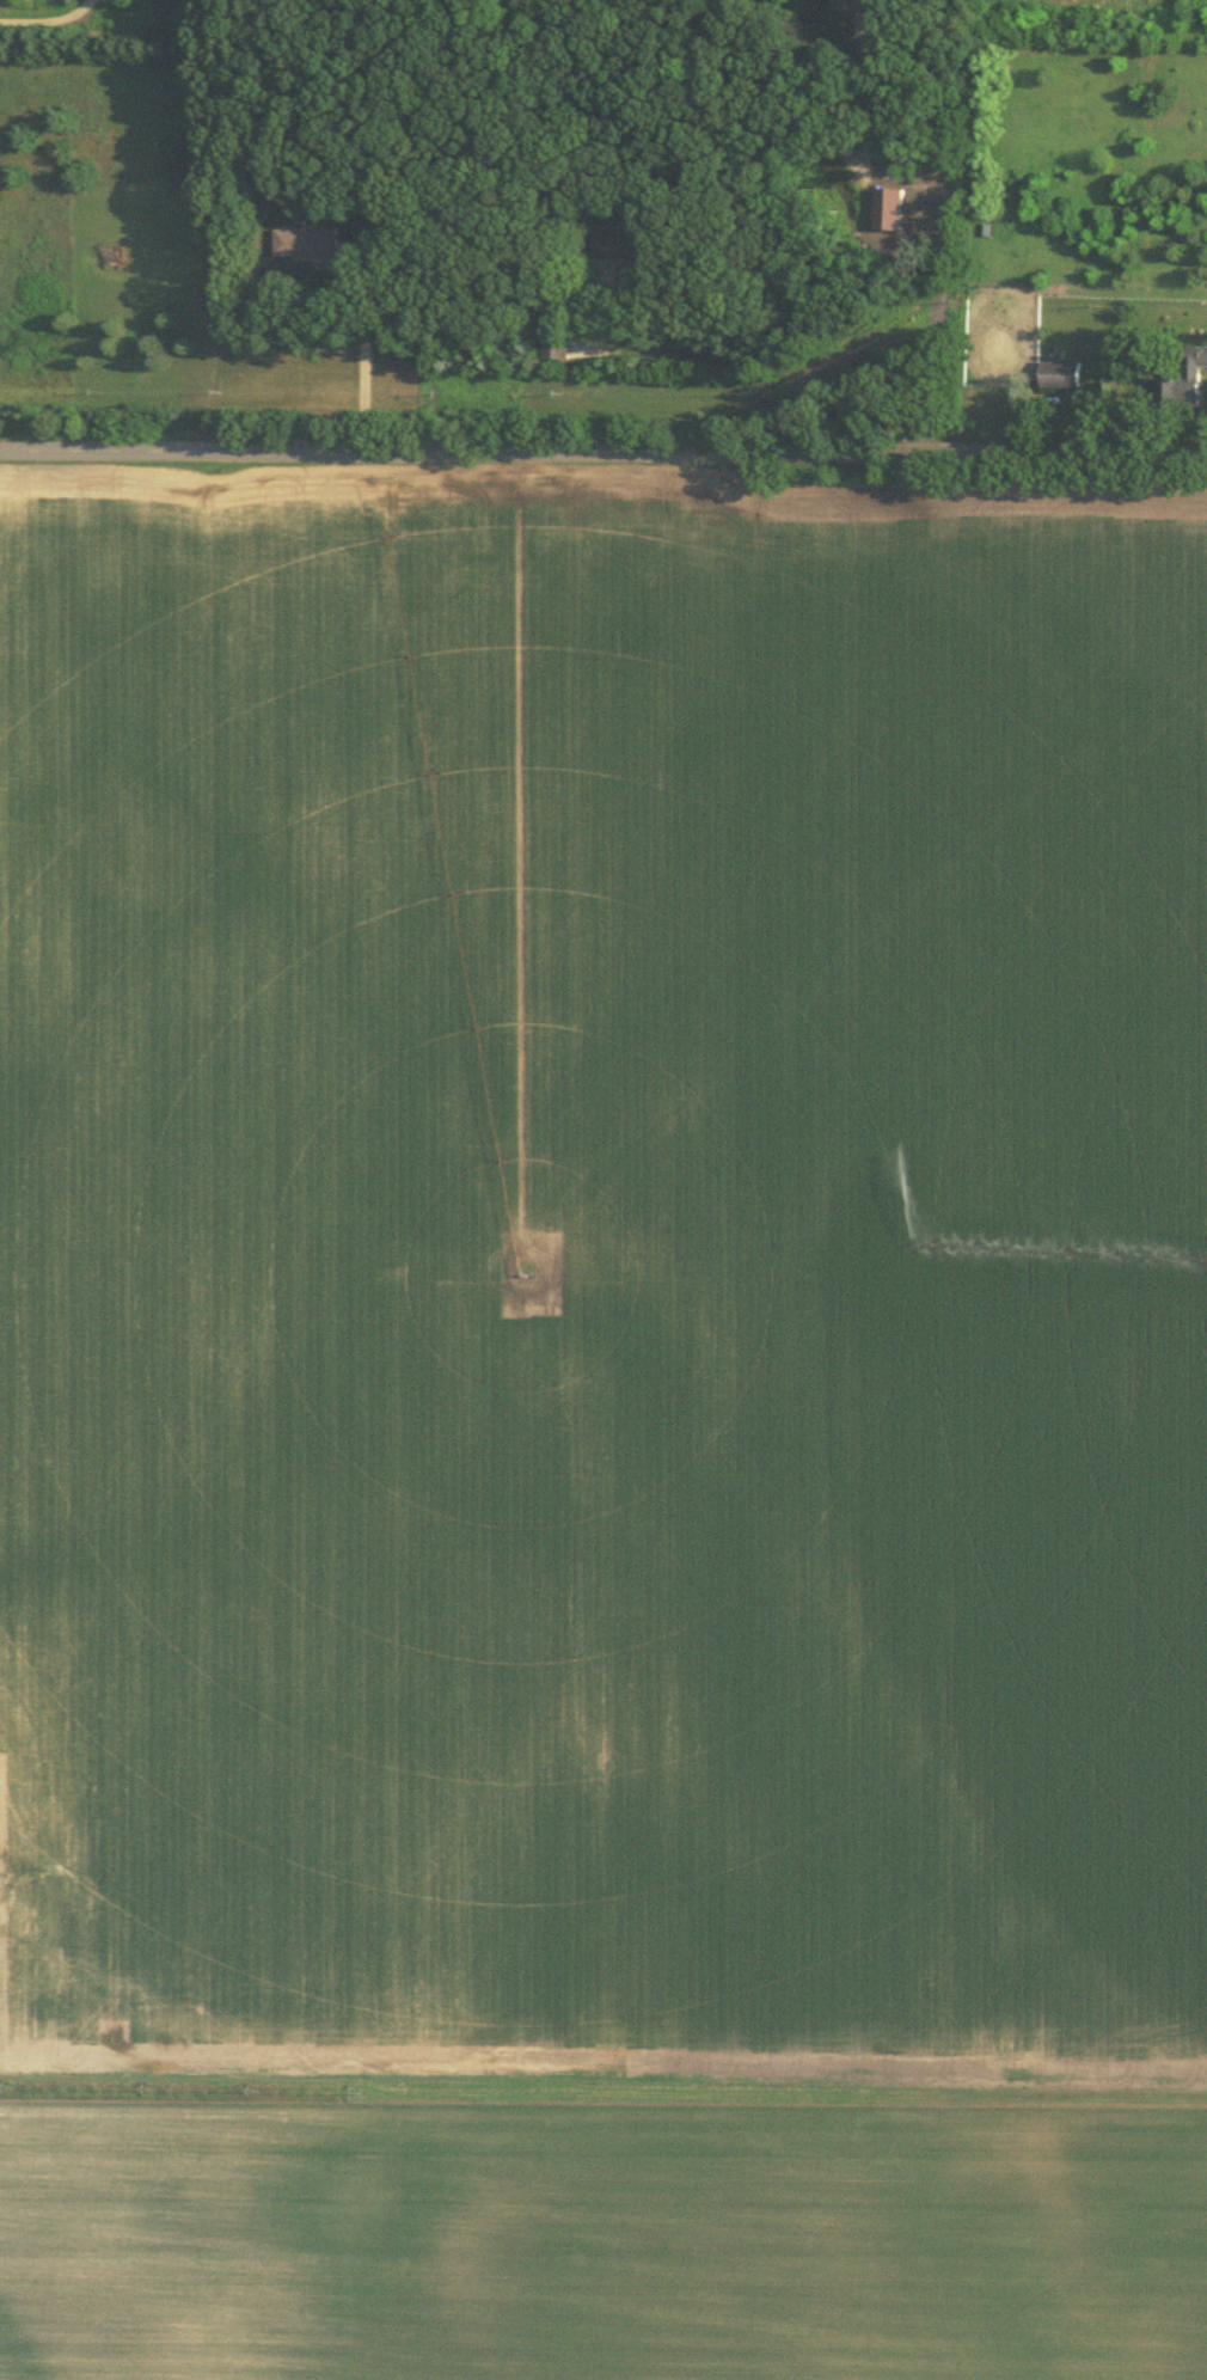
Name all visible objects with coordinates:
building: (857, 6)
road: (44, 20)
building: (890, 206)
building: (988, 227)
road: (948, 238)
building: (305, 240)
building: (556, 341)
road: (705, 349)
road: (364, 351)
building: (1061, 372)
building: (1185, 377)
road: (603, 451)
crop: (603, 1291)
crop: (598, 2243)

